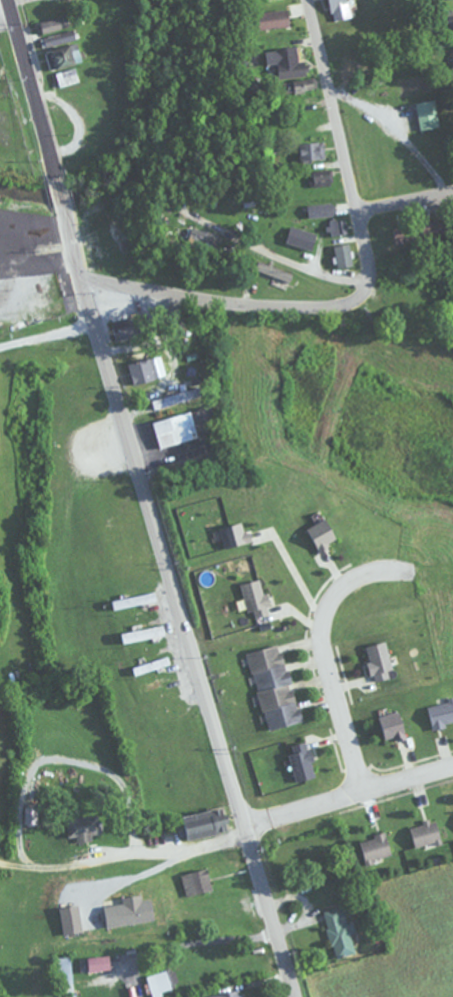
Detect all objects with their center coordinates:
building: (338, 9)
building: (271, 19)
building: (450, 23)
building: (53, 24)
building: (57, 39)
building: (349, 40)
building: (452, 51)
building: (64, 57)
building: (291, 68)
building: (68, 77)
building: (428, 115)
road: (341, 141)
building: (311, 150)
building: (320, 178)
road: (405, 204)
building: (321, 209)
building: (337, 227)
building: (414, 232)
building: (300, 237)
building: (198, 238)
building: (111, 254)
building: (343, 255)
road: (270, 256)
building: (274, 272)
road: (228, 307)
building: (410, 319)
building: (147, 368)
building: (175, 429)
road: (145, 500)
building: (133, 600)
building: (139, 618)
road: (323, 647)
building: (147, 649)
building: (152, 665)
building: (159, 682)
building: (273, 687)
road: (347, 793)
building: (200, 824)
building: (83, 828)
road: (171, 851)
building: (96, 879)
building: (197, 883)
building: (340, 932)
building: (97, 964)
building: (162, 984)
building: (227, 994)

